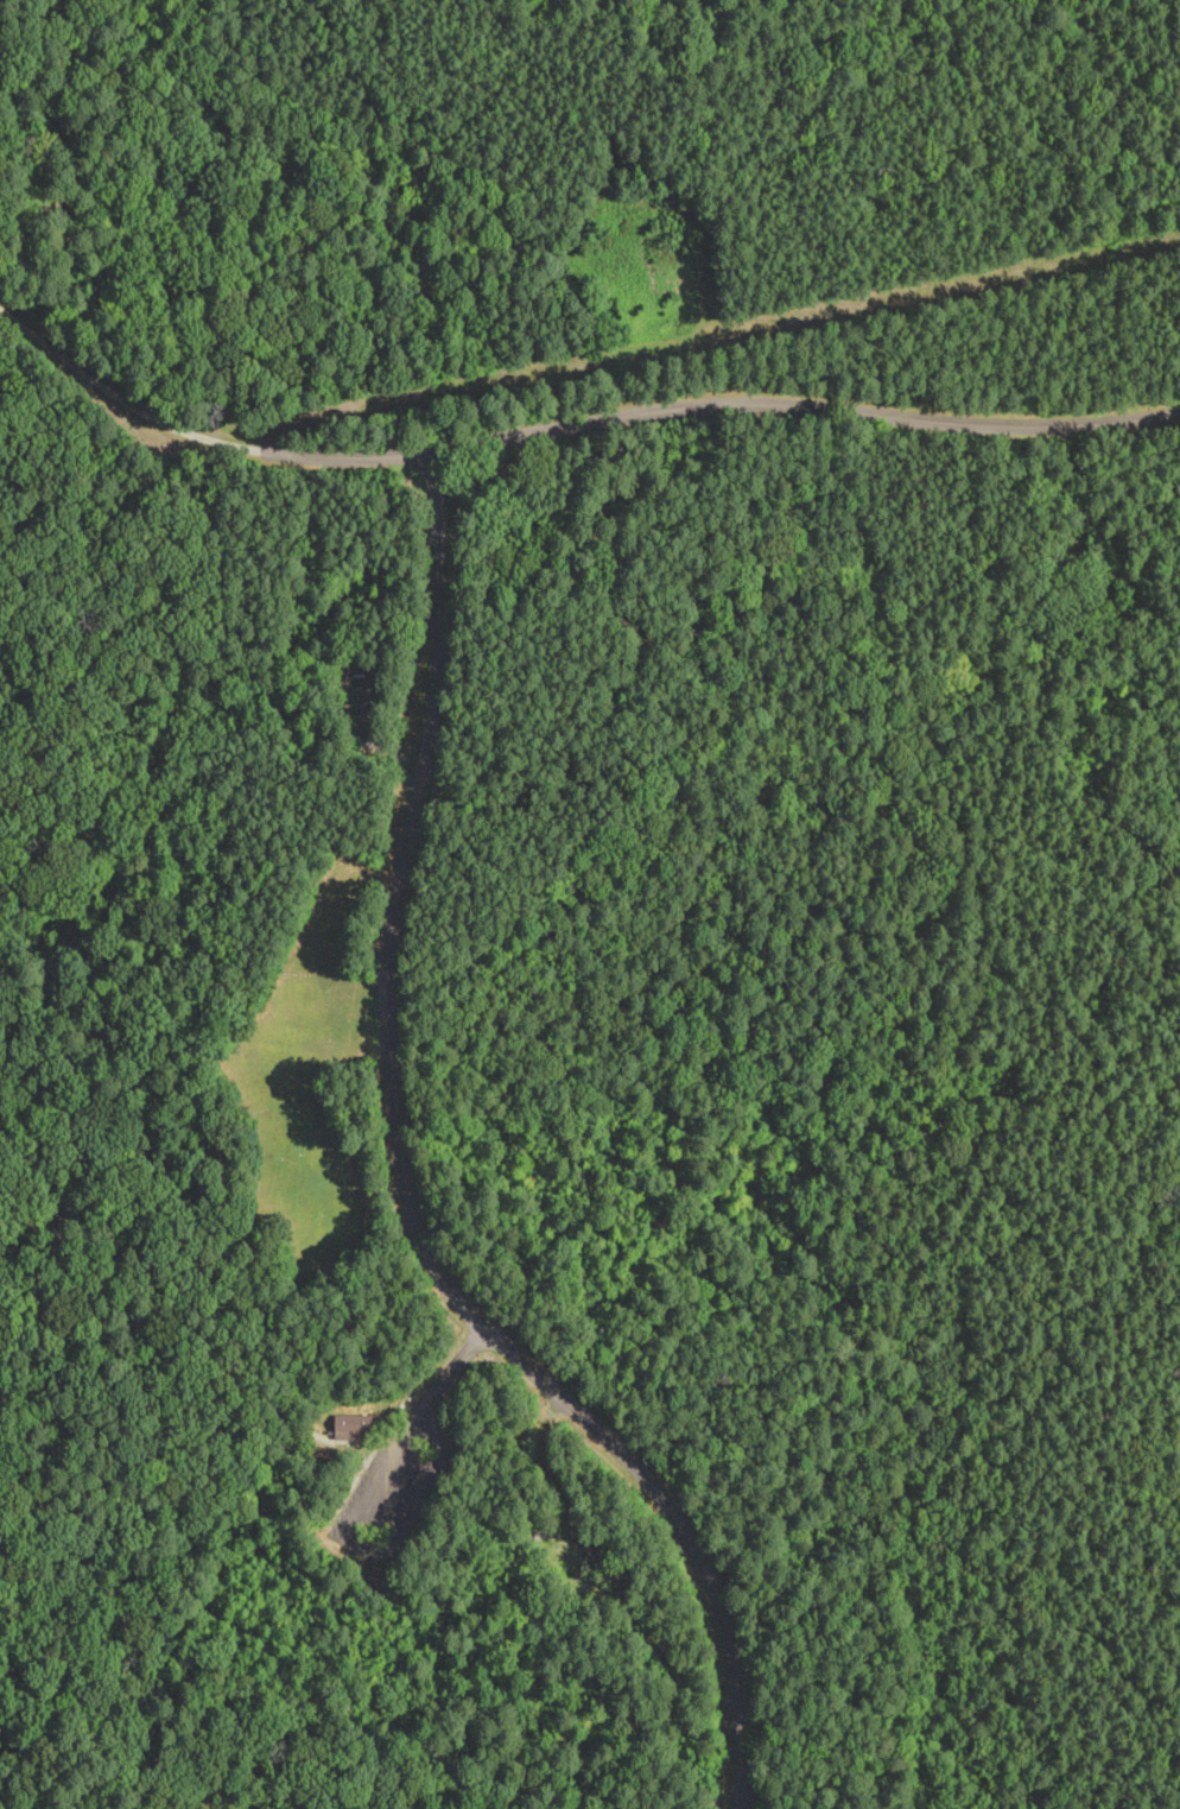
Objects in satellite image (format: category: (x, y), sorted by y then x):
road: (115, 393)
road: (710, 405)
park: (590, 904)
road: (404, 1185)
road: (423, 1406)
building: (351, 1425)

